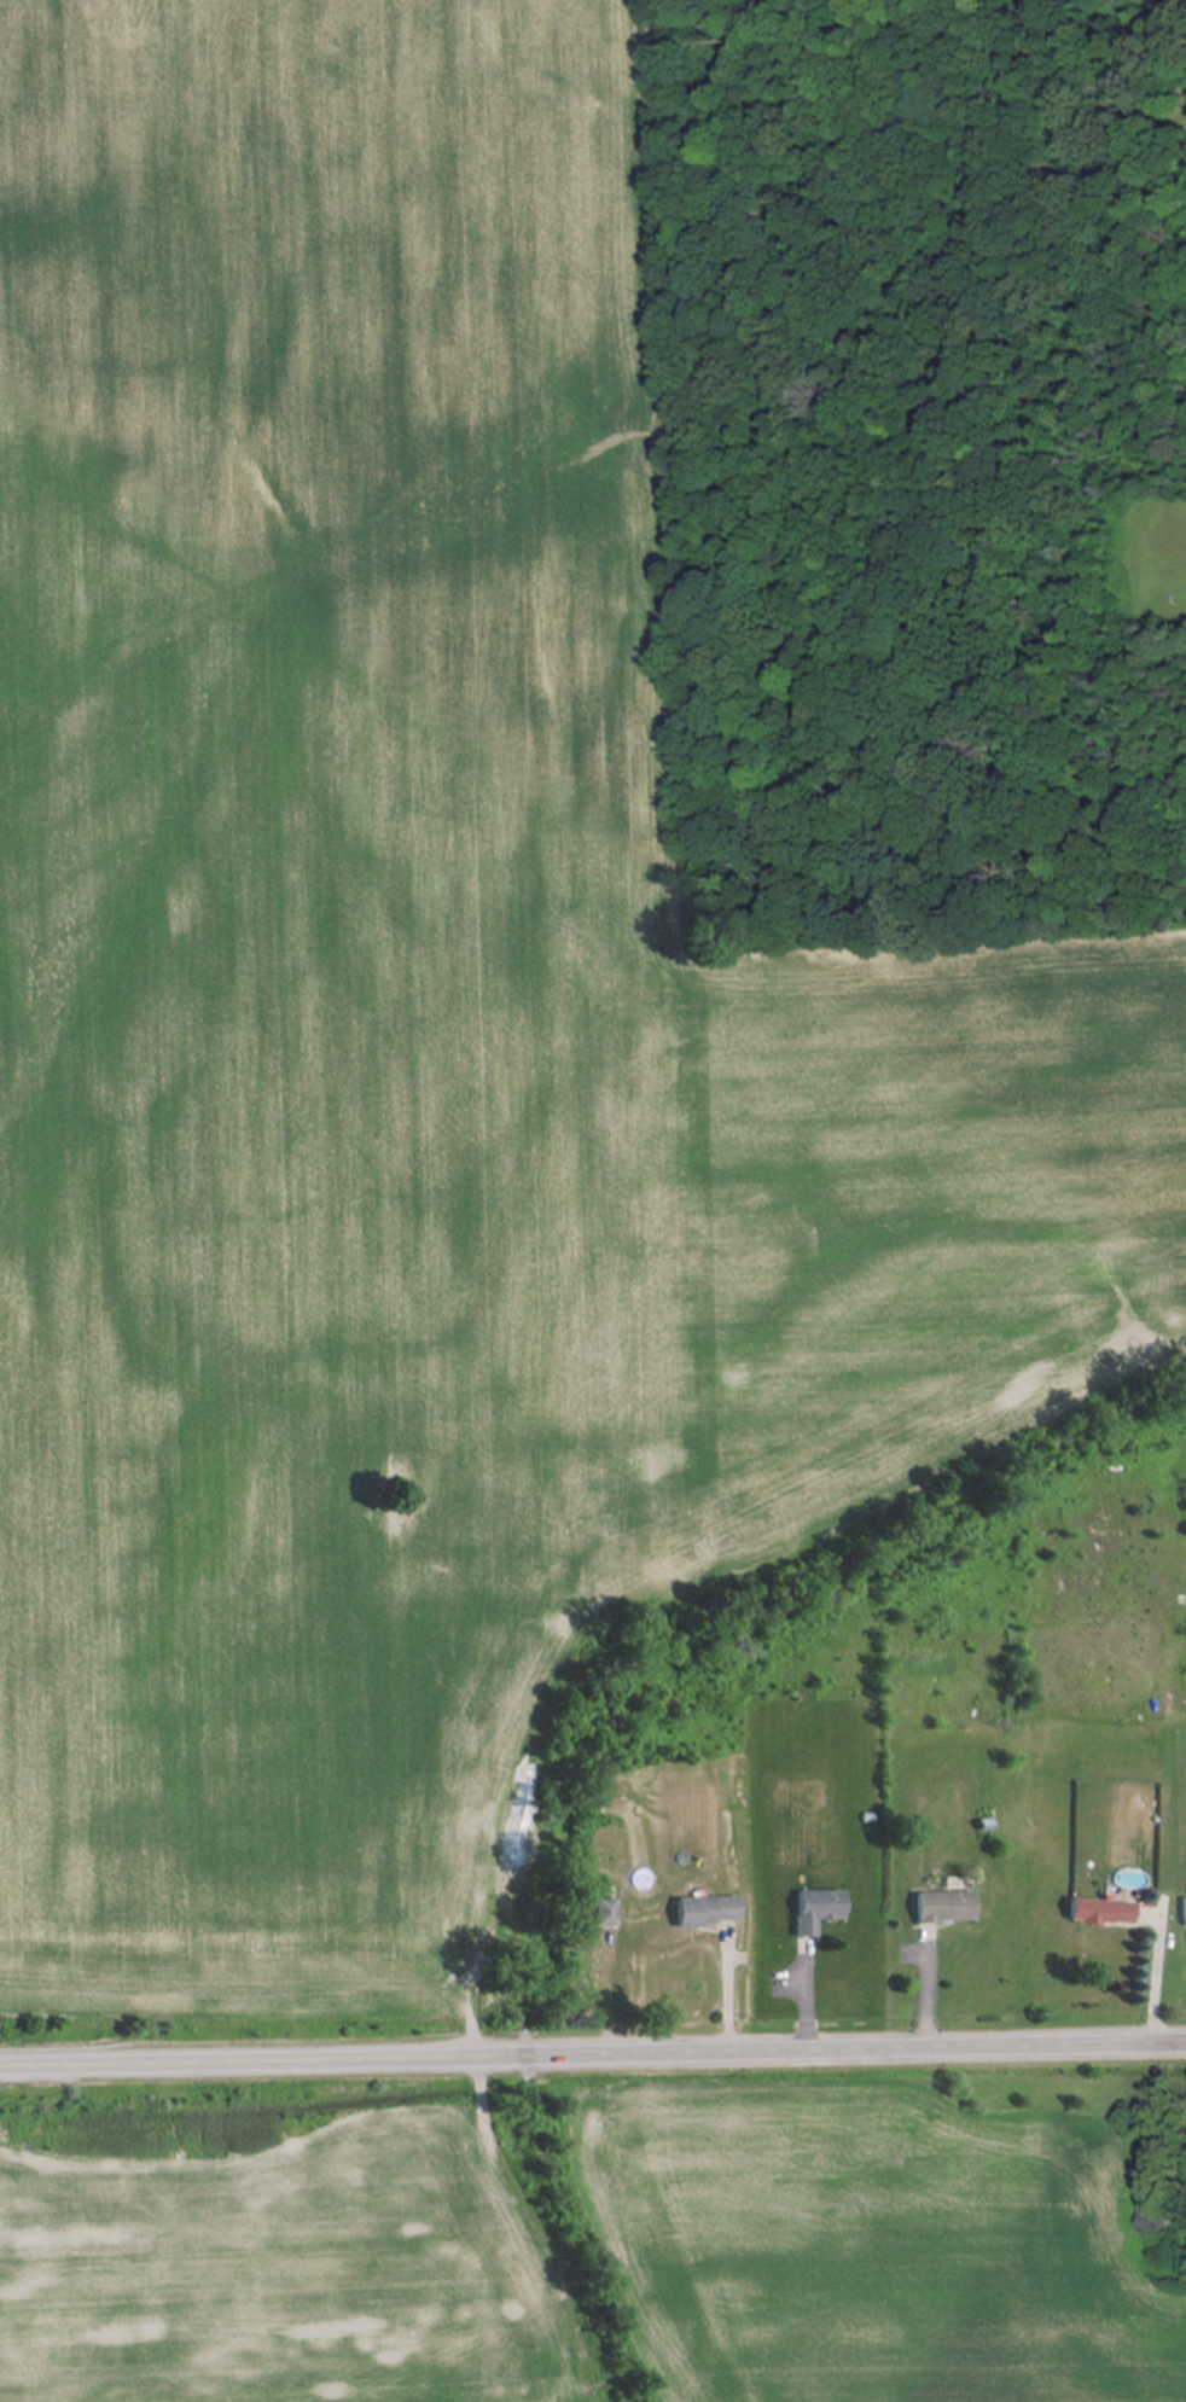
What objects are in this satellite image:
building: (942, 1904)
building: (815, 1907)
building: (707, 1909)
building: (606, 1910)
building: (1098, 1910)
road: (1157, 1961)
road: (593, 2052)
building: (1155, 2214)

